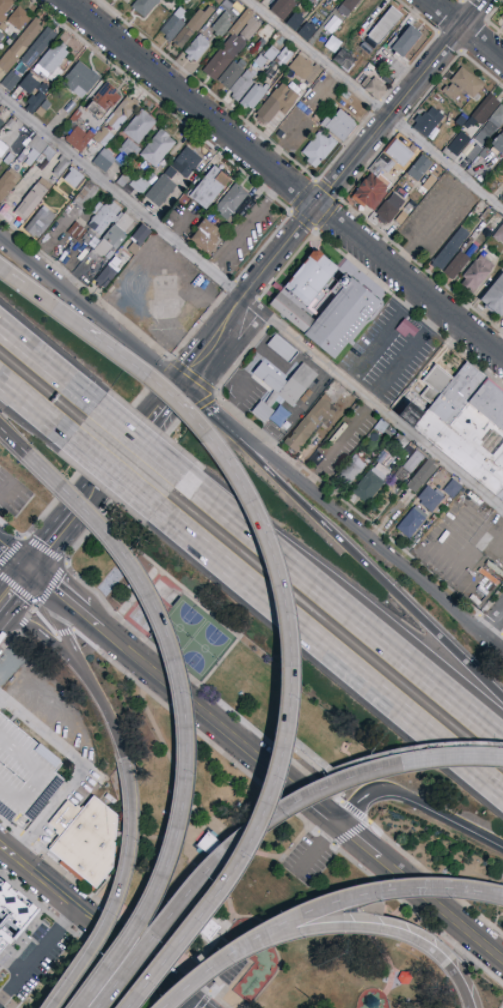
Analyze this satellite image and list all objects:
building: (297, 0)
building: (119, 1)
building: (127, 1)
building: (217, 2)
building: (224, 5)
building: (349, 5)
building: (144, 6)
building: (283, 8)
building: (218, 11)
building: (4, 12)
building: (180, 13)
building: (502, 17)
building: (19, 18)
building: (296, 21)
building: (222, 25)
building: (192, 27)
building: (383, 27)
building: (172, 28)
road: (465, 30)
building: (307, 31)
building: (1, 36)
building: (9, 41)
building: (403, 42)
building: (261, 43)
building: (233, 44)
building: (19, 47)
building: (197, 48)
building: (366, 49)
building: (36, 51)
building: (285, 55)
building: (264, 58)
building: (344, 60)
building: (52, 62)
building: (306, 69)
building: (269, 73)
building: (232, 74)
building: (80, 80)
building: (10, 81)
building: (467, 83)
building: (30, 84)
building: (241, 86)
building: (374, 88)
building: (451, 92)
building: (254, 96)
building: (103, 101)
building: (35, 102)
building: (278, 103)
road: (378, 103)
building: (46, 106)
building: (69, 108)
building: (483, 111)
building: (41, 112)
building: (123, 112)
building: (75, 117)
building: (1, 123)
building: (424, 124)
building: (340, 125)
building: (139, 127)
building: (490, 127)
building: (103, 137)
building: (79, 139)
building: (497, 145)
building: (456, 146)
building: (157, 148)
building: (35, 149)
building: (319, 149)
building: (401, 150)
building: (474, 152)
building: (484, 153)
building: (2, 154)
building: (127, 155)
building: (45, 157)
building: (9, 159)
building: (188, 163)
building: (382, 165)
building: (61, 166)
building: (419, 169)
building: (170, 173)
building: (384, 173)
building: (75, 179)
building: (123, 180)
road: (283, 180)
building: (8, 183)
building: (139, 184)
building: (428, 185)
building: (210, 188)
road: (328, 189)
building: (161, 191)
building: (371, 191)
building: (401, 192)
building: (86, 195)
building: (184, 199)
building: (33, 200)
building: (231, 201)
building: (389, 208)
building: (103, 216)
building: (40, 222)
road: (245, 224)
building: (78, 227)
building: (499, 234)
building: (114, 235)
building: (141, 235)
building: (207, 237)
building: (91, 238)
road: (264, 241)
building: (450, 249)
building: (110, 255)
building: (459, 262)
building: (477, 274)
building: (107, 276)
road: (370, 278)
building: (494, 297)
road: (41, 300)
road: (250, 303)
building: (324, 303)
road: (89, 310)
road: (386, 328)
road: (411, 348)
building: (282, 349)
parking lot: (389, 351)
road: (177, 365)
road: (46, 368)
traffic signals: (180, 383)
building: (283, 388)
road: (198, 400)
road: (33, 409)
road: (188, 415)
building: (322, 416)
building: (464, 422)
building: (382, 427)
road: (13, 442)
road: (338, 444)
road: (139, 445)
building: (312, 445)
building: (382, 457)
building: (317, 459)
building: (411, 463)
road: (78, 471)
building: (351, 471)
road: (109, 473)
road: (102, 475)
building: (421, 476)
building: (370, 483)
road: (325, 485)
road: (122, 487)
building: (453, 489)
building: (429, 499)
building: (502, 499)
building: (411, 522)
road: (362, 534)
road: (360, 556)
road: (12, 558)
road: (274, 566)
road: (60, 567)
traffic signals: (24, 568)
road: (11, 582)
road: (30, 609)
road: (51, 612)
road: (344, 614)
road: (43, 620)
road: (20, 622)
road: (493, 625)
park: (177, 629)
road: (63, 630)
road: (40, 632)
road: (7, 635)
park: (203, 651)
road: (327, 653)
road: (170, 657)
road: (43, 730)
road: (114, 730)
road: (264, 763)
road: (345, 766)
building: (24, 774)
parking lot: (24, 774)
road: (312, 780)
road: (271, 792)
park: (258, 798)
road: (418, 803)
road: (287, 805)
road: (50, 813)
road: (265, 824)
building: (85, 840)
road: (316, 848)
road: (377, 893)
building: (11, 911)
road: (114, 914)
road: (112, 917)
road: (96, 925)
building: (205, 927)
road: (359, 930)
road: (37, 955)
road: (119, 956)
road: (210, 970)
road: (150, 981)
road: (461, 986)
road: (191, 1005)
road: (197, 1005)

